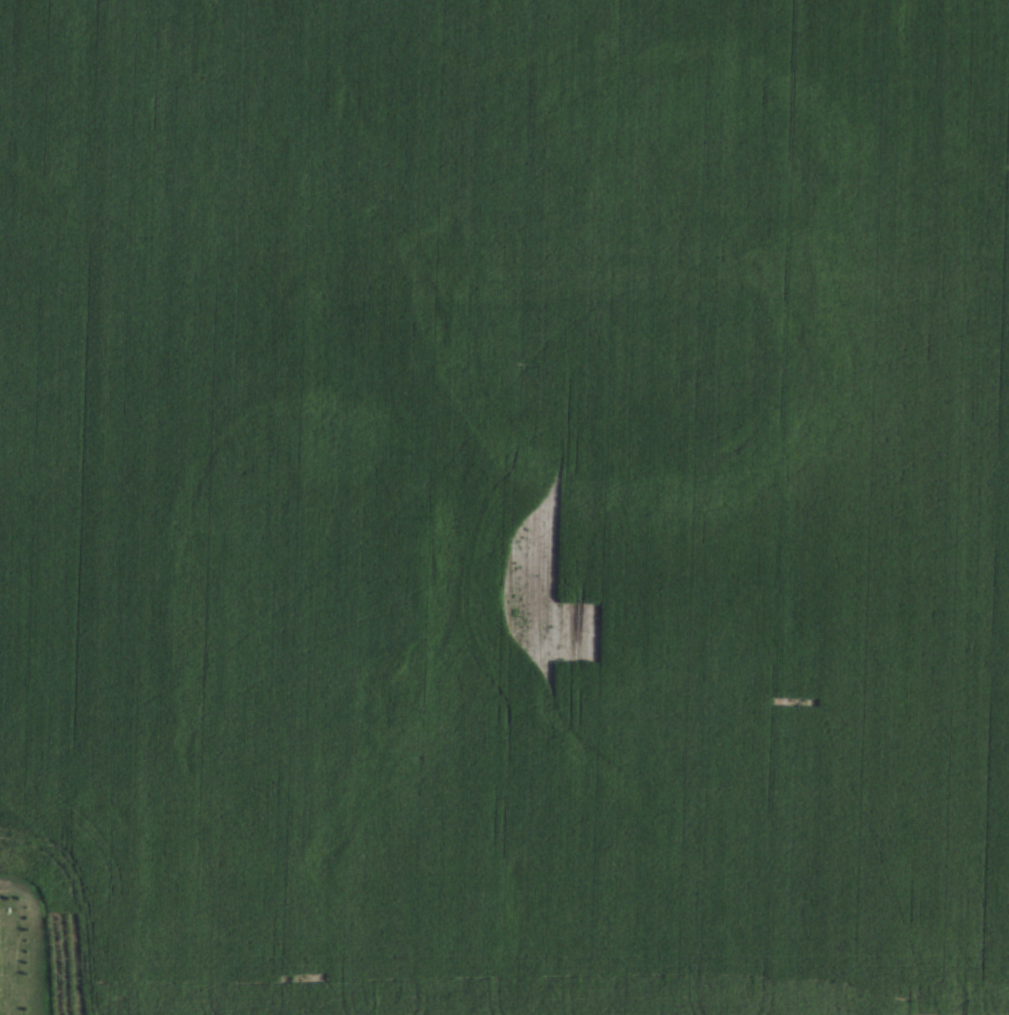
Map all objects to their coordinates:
park: (8, 956)

